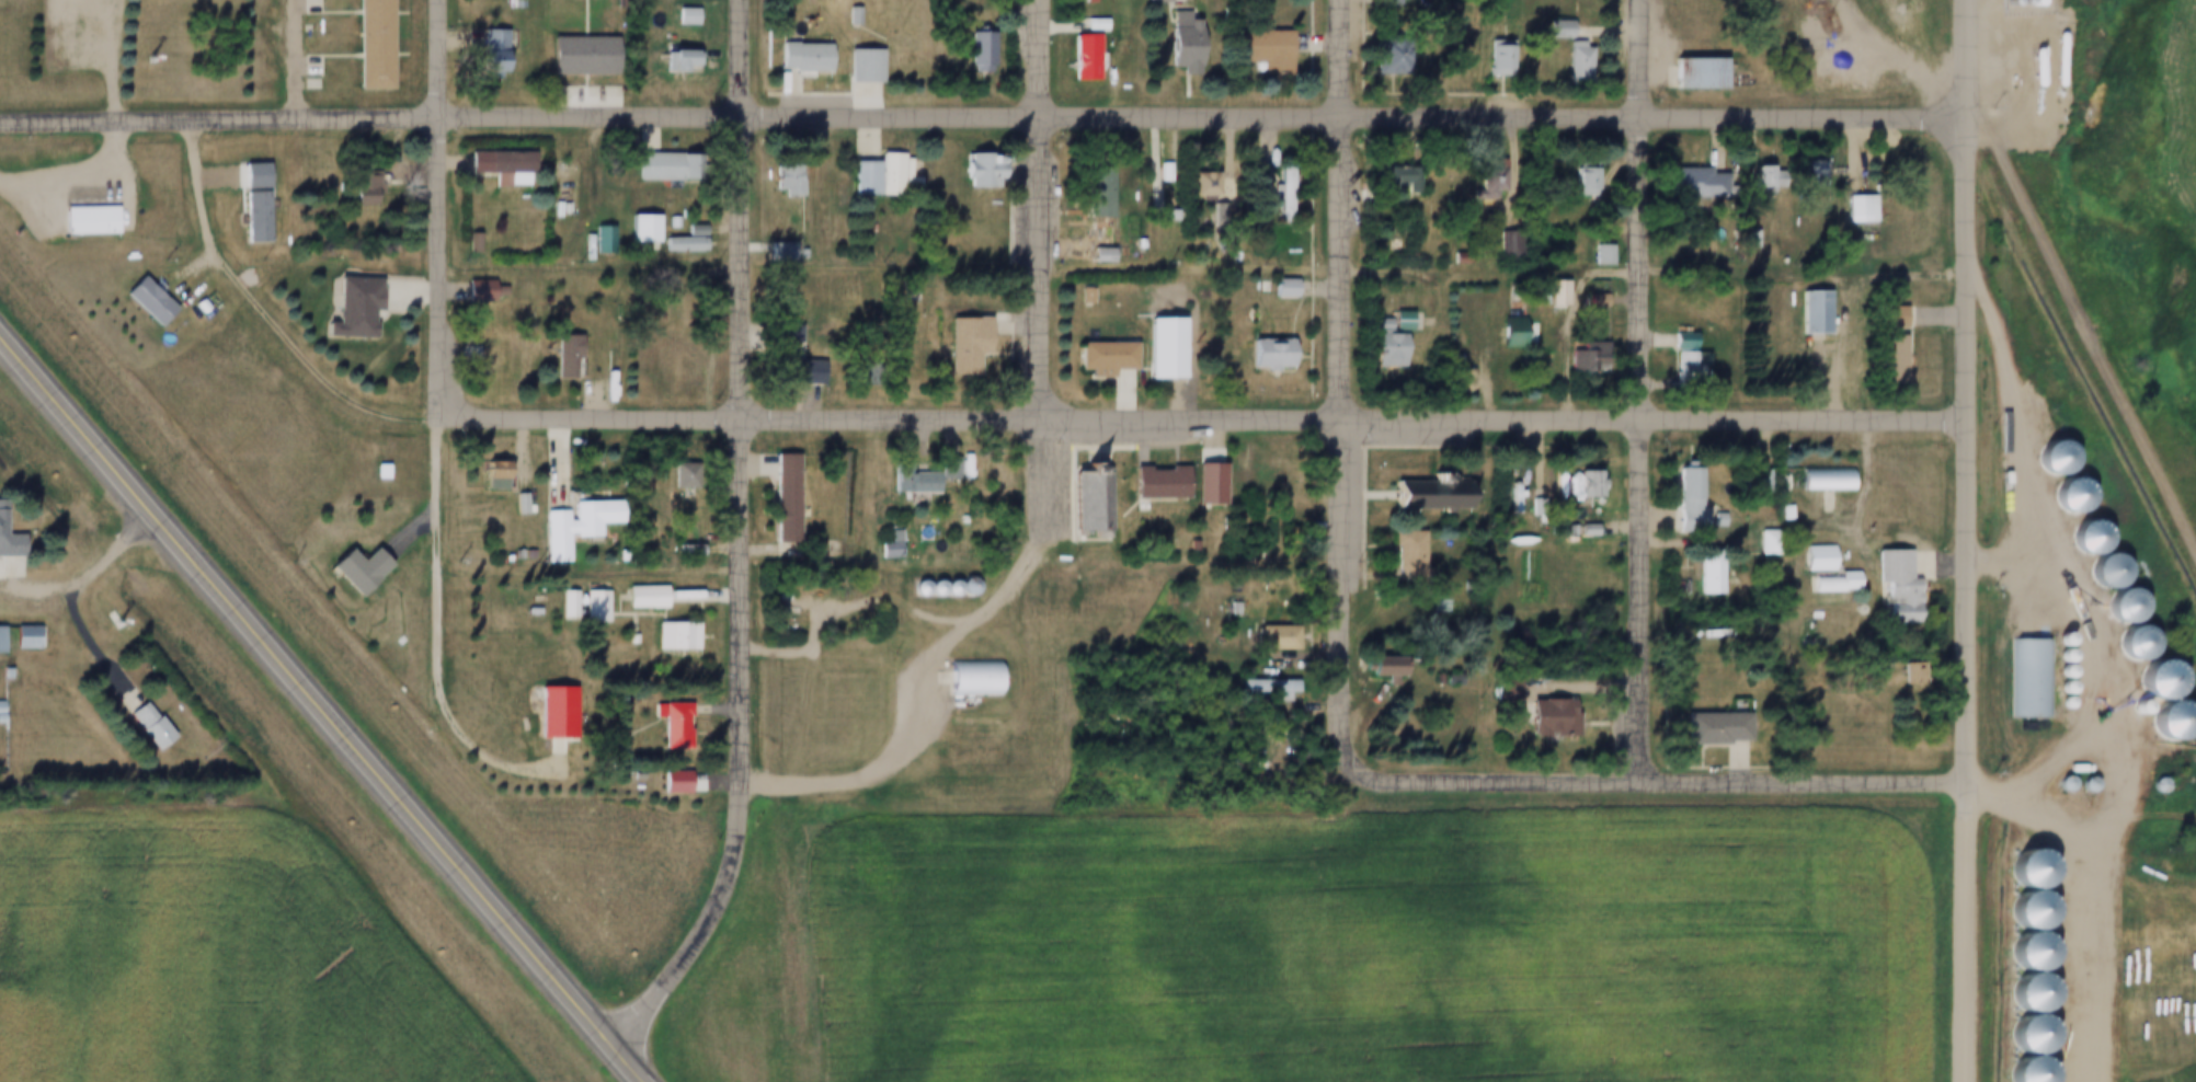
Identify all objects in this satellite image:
building: (1409, 0)
building: (1077, 1)
building: (1151, 1)
building: (511, 3)
storage tank: (2020, 3)
storage tank: (1995, 4)
storage tank: (2008, 4)
building: (679, 16)
building: (845, 16)
road: (579, 19)
building: (1088, 25)
building: (1552, 30)
building: (1176, 41)
building: (367, 45)
building: (1257, 48)
park: (156, 53)
building: (485, 53)
building: (971, 54)
building: (574, 55)
building: (1381, 57)
building: (796, 58)
building: (1490, 58)
road: (115, 59)
road: (297, 59)
building: (672, 60)
building: (1076, 60)
storage tank: (2049, 60)
building: (1570, 62)
building: (858, 67)
storage tank: (2025, 69)
building: (1690, 76)
road: (579, 79)
parking lot: (581, 95)
road: (1205, 113)
road: (220, 118)
railway: (1825, 133)
building: (492, 165)
building: (653, 168)
building: (1812, 171)
building: (968, 172)
road: (77, 173)
building: (1157, 173)
building: (885, 174)
building: (1768, 174)
building: (781, 177)
building: (1800, 179)
building: (858, 180)
building: (1253, 180)
building: (1483, 180)
building: (1752, 181)
building: (1387, 182)
building: (1576, 183)
building: (1678, 183)
building: (1196, 185)
building: (355, 191)
building: (1089, 194)
building: (1285, 194)
building: (1276, 195)
road: (442, 207)
road: (1043, 208)
building: (1848, 211)
building: (1165, 217)
building: (1254, 217)
building: (250, 218)
building: (82, 221)
building: (666, 222)
building: (1194, 226)
building: (634, 230)
building: (688, 230)
building: (596, 241)
building: (1742, 241)
building: (467, 243)
building: (1501, 243)
building: (677, 244)
building: (1131, 244)
building: (769, 252)
building: (1597, 255)
building: (1091, 257)
road: (592, 265)
building: (1276, 289)
building: (472, 291)
building: (1085, 293)
building: (866, 295)
building: (1549, 295)
building: (904, 297)
building: (1076, 297)
building: (140, 302)
building: (193, 306)
road: (2086, 307)
building: (346, 309)
road: (270, 311)
building: (1805, 314)
building: (1883, 319)
building: (1393, 322)
building: (1371, 325)
building: (1505, 336)
building: (957, 346)
building: (1380, 349)
building: (776, 352)
building: (1153, 352)
building: (488, 354)
building: (558, 356)
building: (1260, 356)
building: (1593, 358)
building: (1675, 358)
building: (1094, 360)
building: (1882, 360)
building: (1572, 362)
building: (664, 365)
building: (863, 376)
building: (887, 376)
road: (1346, 383)
road: (742, 389)
road: (1644, 390)
road: (1970, 390)
road: (1206, 417)
building: (2048, 460)
silo: (2048, 460)
building: (938, 469)
building: (380, 470)
building: (373, 472)
building: (484, 472)
building: (682, 473)
building: (673, 476)
building: (1762, 479)
building: (1817, 480)
building: (1753, 482)
building: (907, 484)
building: (1146, 485)
building: (1580, 486)
building: (1198, 487)
building: (1517, 488)
building: (1507, 493)
building: (1419, 496)
building: (778, 498)
building: (2063, 498)
silo: (2063, 498)
building: (523, 502)
building: (1681, 502)
building: (513, 505)
building: (1078, 506)
building: (1777, 514)
building: (565, 528)
road: (1050, 529)
building: (1563, 530)
building: (1579, 531)
building: (920, 540)
building: (2083, 540)
silo: (2083, 540)
building: (1760, 543)
building: (881, 545)
building: (7, 546)
building: (680, 552)
building: (1402, 557)
building: (1810, 559)
road: (94, 566)
building: (1709, 569)
building: (347, 572)
building: (2102, 573)
silo: (2102, 573)
building: (1699, 577)
building: (1826, 583)
building: (963, 585)
silo: (963, 585)
building: (945, 587)
silo: (945, 587)
building: (1887, 587)
building: (914, 588)
silo: (914, 588)
building: (929, 588)
silo: (929, 588)
building: (637, 598)
building: (807, 600)
building: (569, 601)
road: (858, 602)
building: (560, 606)
building: (587, 608)
building: (2117, 608)
silo: (2117, 608)
building: (1224, 611)
building: (1, 637)
road: (434, 637)
building: (667, 637)
building: (16, 638)
building: (1267, 638)
building: (625, 641)
building: (390, 642)
building: (2052, 642)
silo: (2052, 642)
building: (2128, 645)
silo: (2128, 645)
building: (2054, 657)
silo: (2054, 657)
building: (1374, 669)
building: (1909, 672)
building: (2054, 674)
silo: (2054, 674)
building: (0, 675)
road: (2107, 675)
building: (968, 677)
building: (2023, 679)
road: (1581, 681)
building: (2150, 682)
silo: (2150, 682)
building: (1260, 689)
building: (1508, 689)
building: (2054, 690)
silo: (2054, 690)
road: (324, 704)
building: (2054, 704)
silo: (2054, 704)
building: (2131, 709)
silo: (2131, 709)
building: (547, 715)
building: (1536, 715)
building: (2164, 722)
silo: (2164, 722)
building: (665, 726)
building: (140, 728)
building: (1706, 729)
road: (900, 753)
building: (2192, 759)
silo: (2192, 759)
road: (1665, 781)
building: (665, 783)
building: (2059, 784)
silo: (2059, 784)
building: (2082, 785)
silo: (2082, 785)
building: (2151, 785)
silo: (2151, 785)
building: (2023, 871)
silo: (2023, 871)
building: (2023, 912)
silo: (2023, 912)
road: (2071, 917)
road: (708, 923)
road: (1974, 931)
building: (2023, 954)
silo: (2023, 954)
building: (2023, 995)
silo: (2023, 995)
building: (2023, 1037)
silo: (2023, 1037)
building: (2023, 1072)
silo: (2023, 1072)

